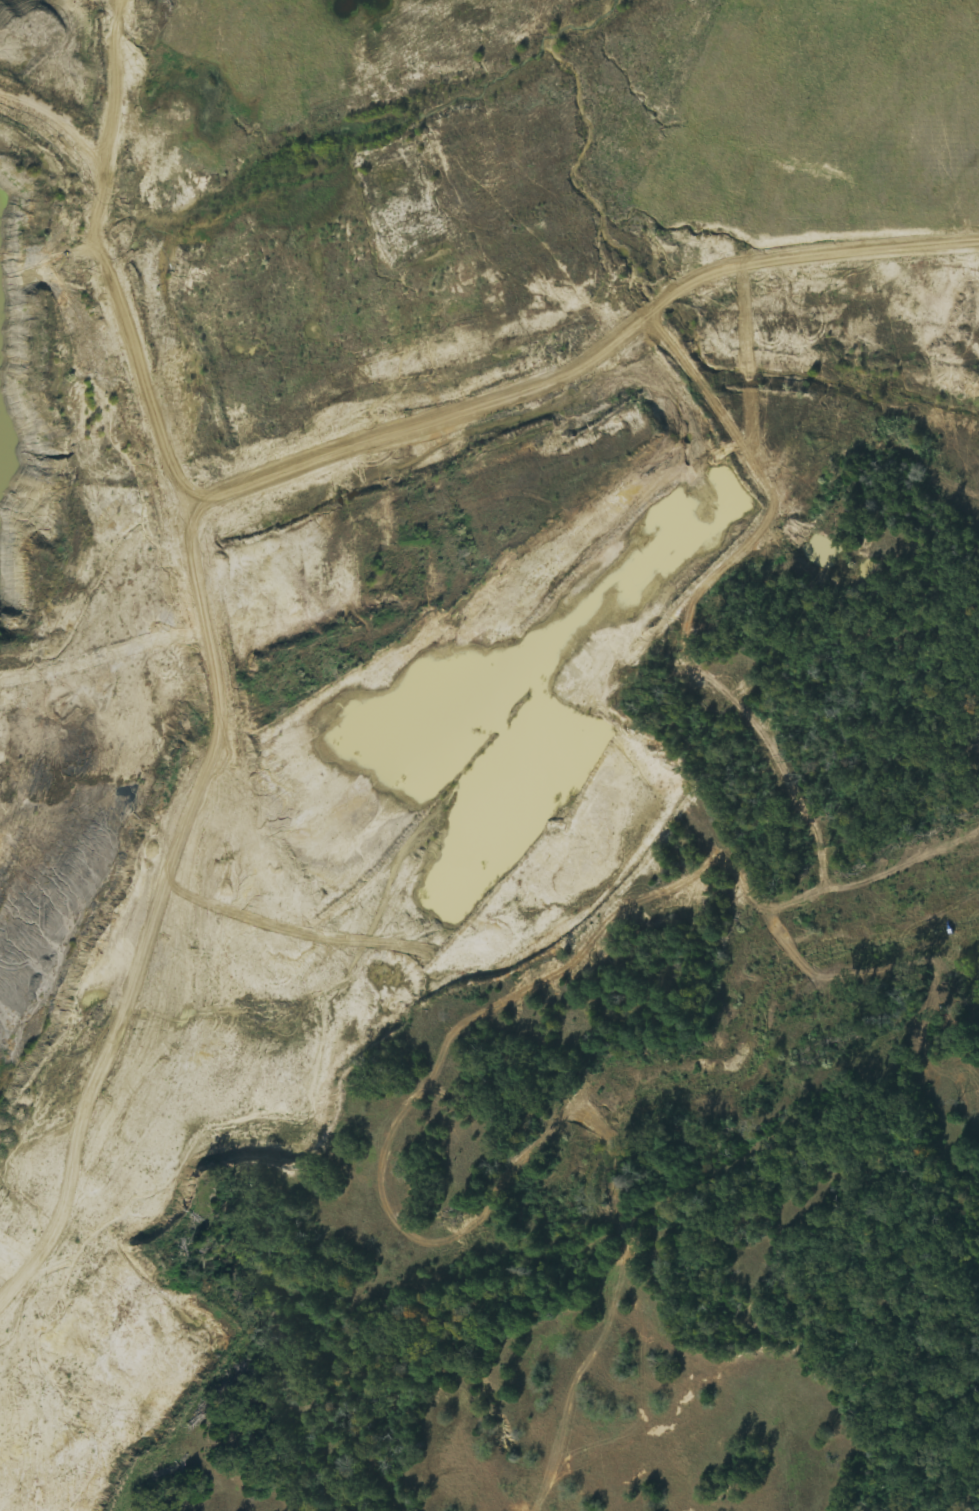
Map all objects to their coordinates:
quarry: (412, 298)

